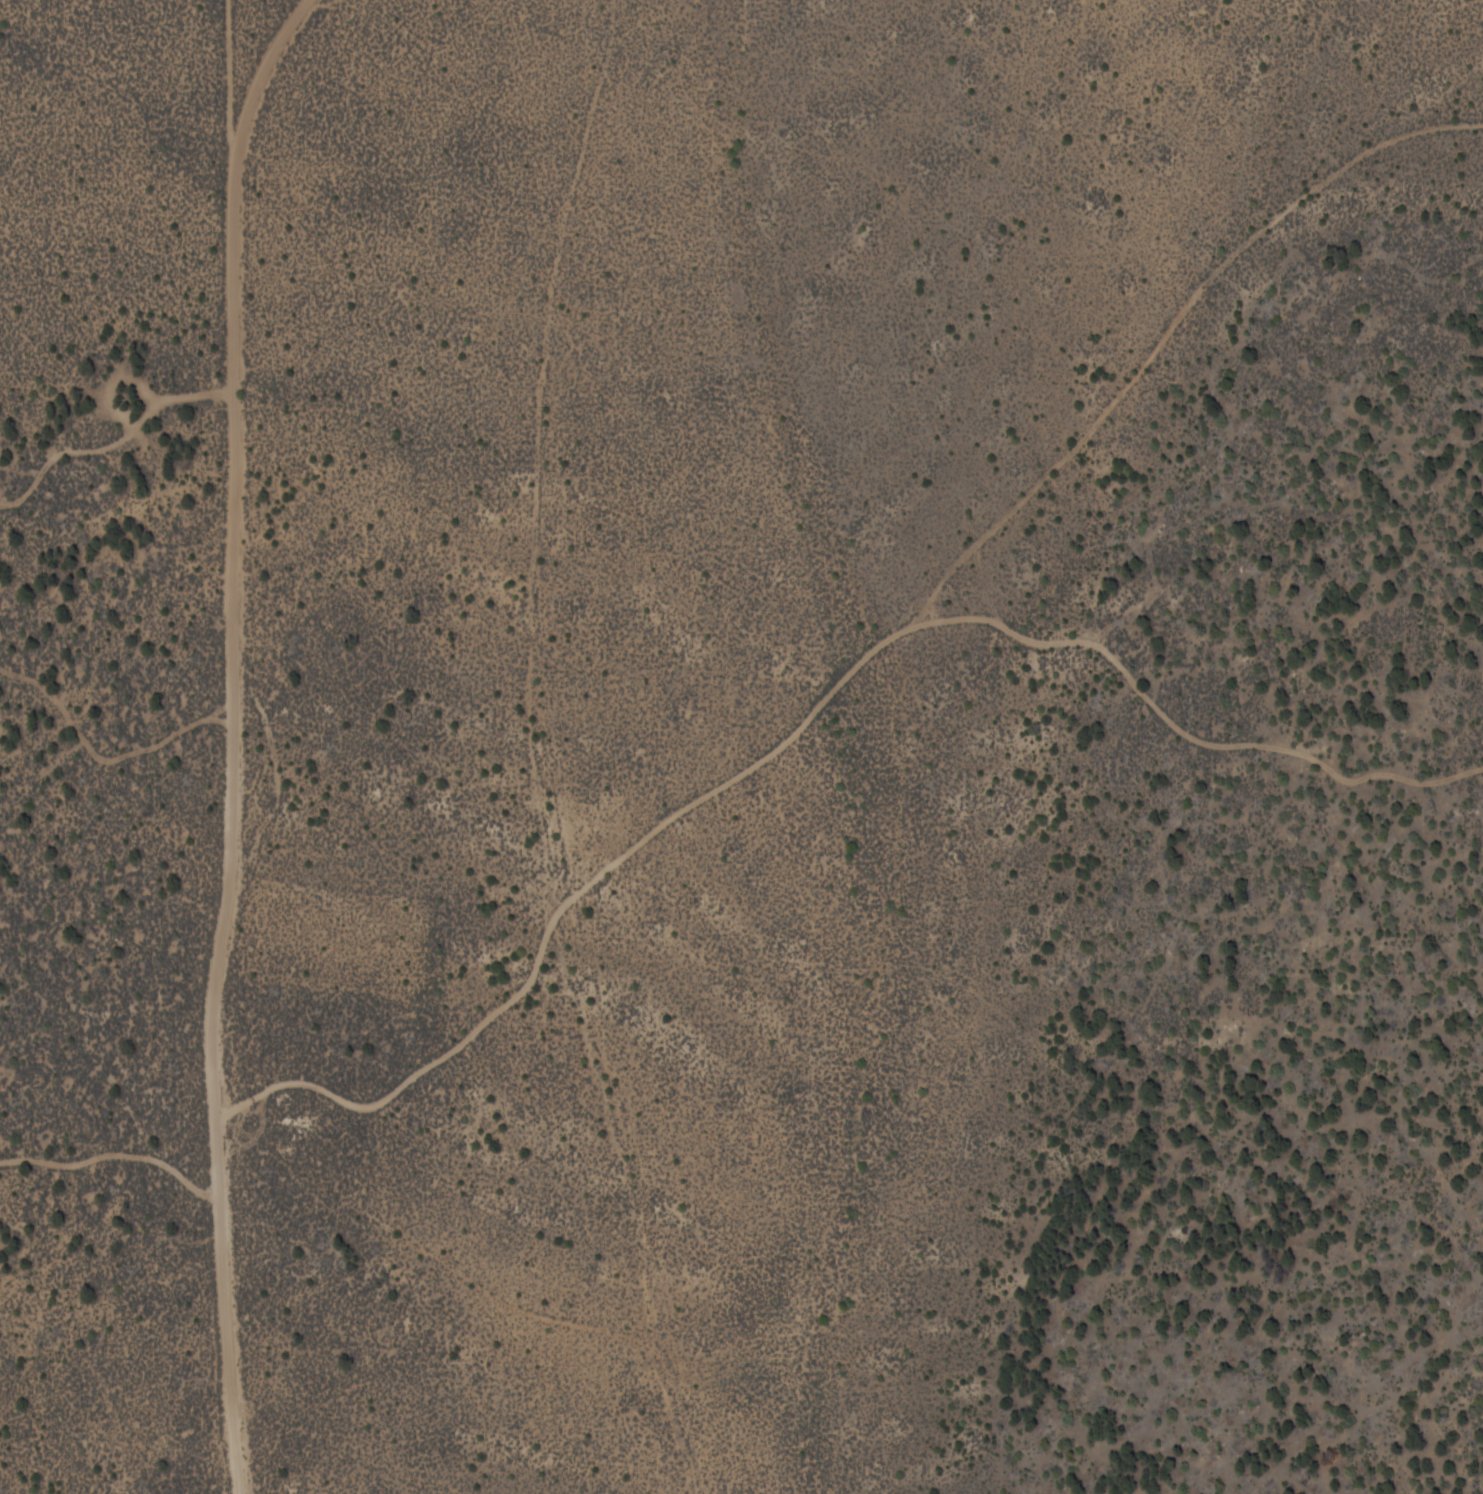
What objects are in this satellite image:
road: (287, 55)
road: (915, 648)
road: (279, 746)

